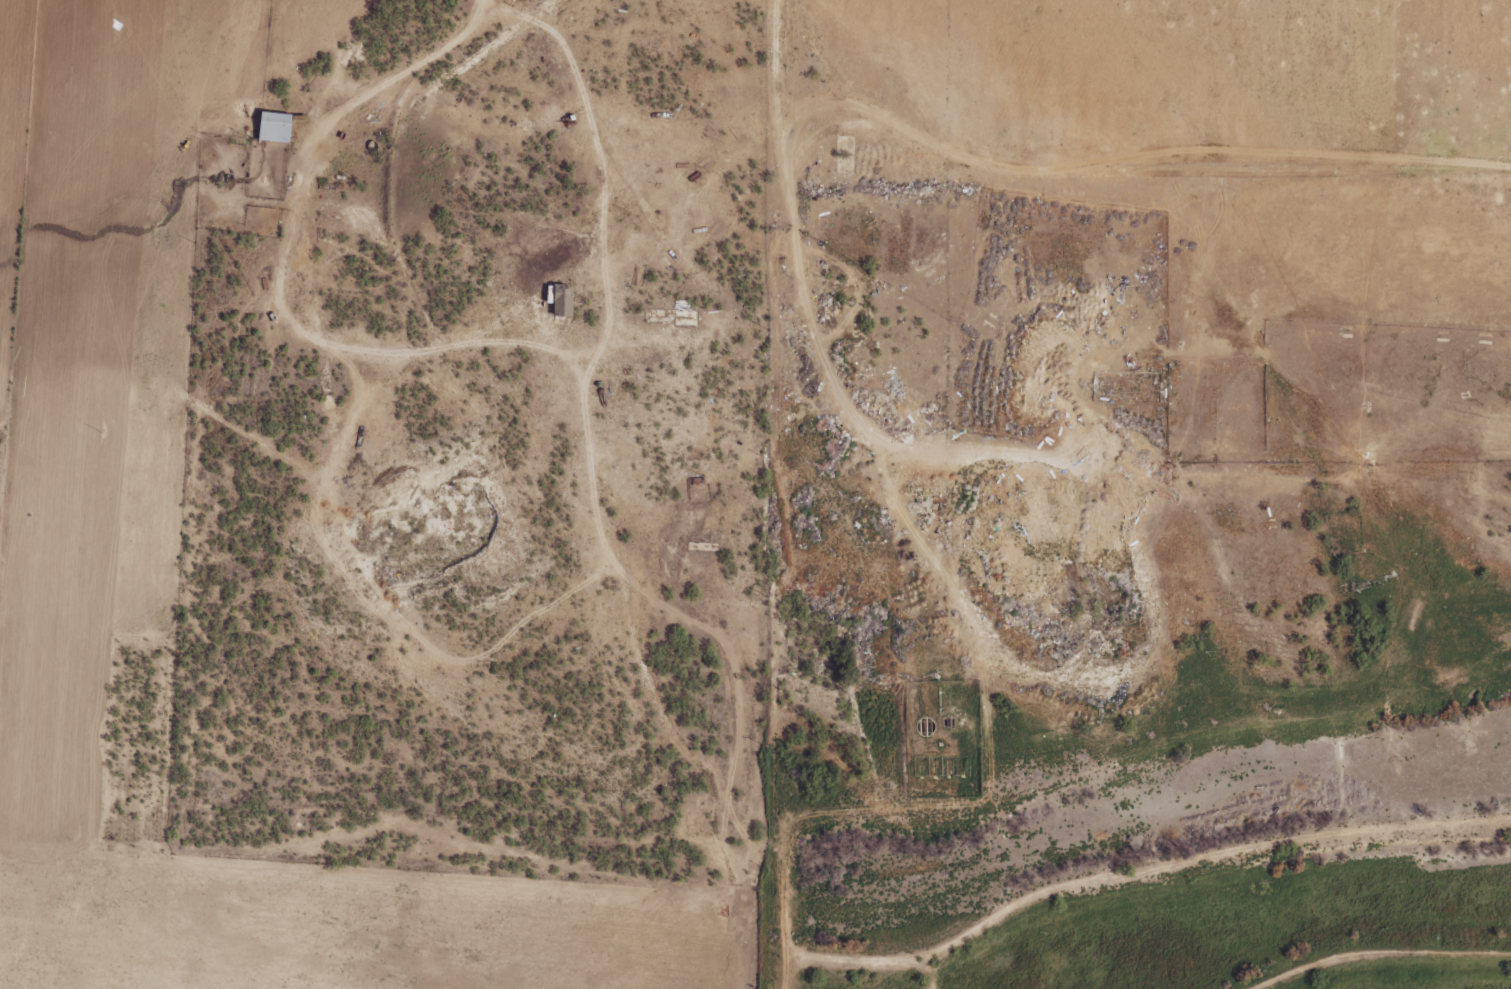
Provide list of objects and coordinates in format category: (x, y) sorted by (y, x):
building: (270, 127)
road: (615, 151)
building: (556, 300)
road: (173, 448)
road: (899, 461)

